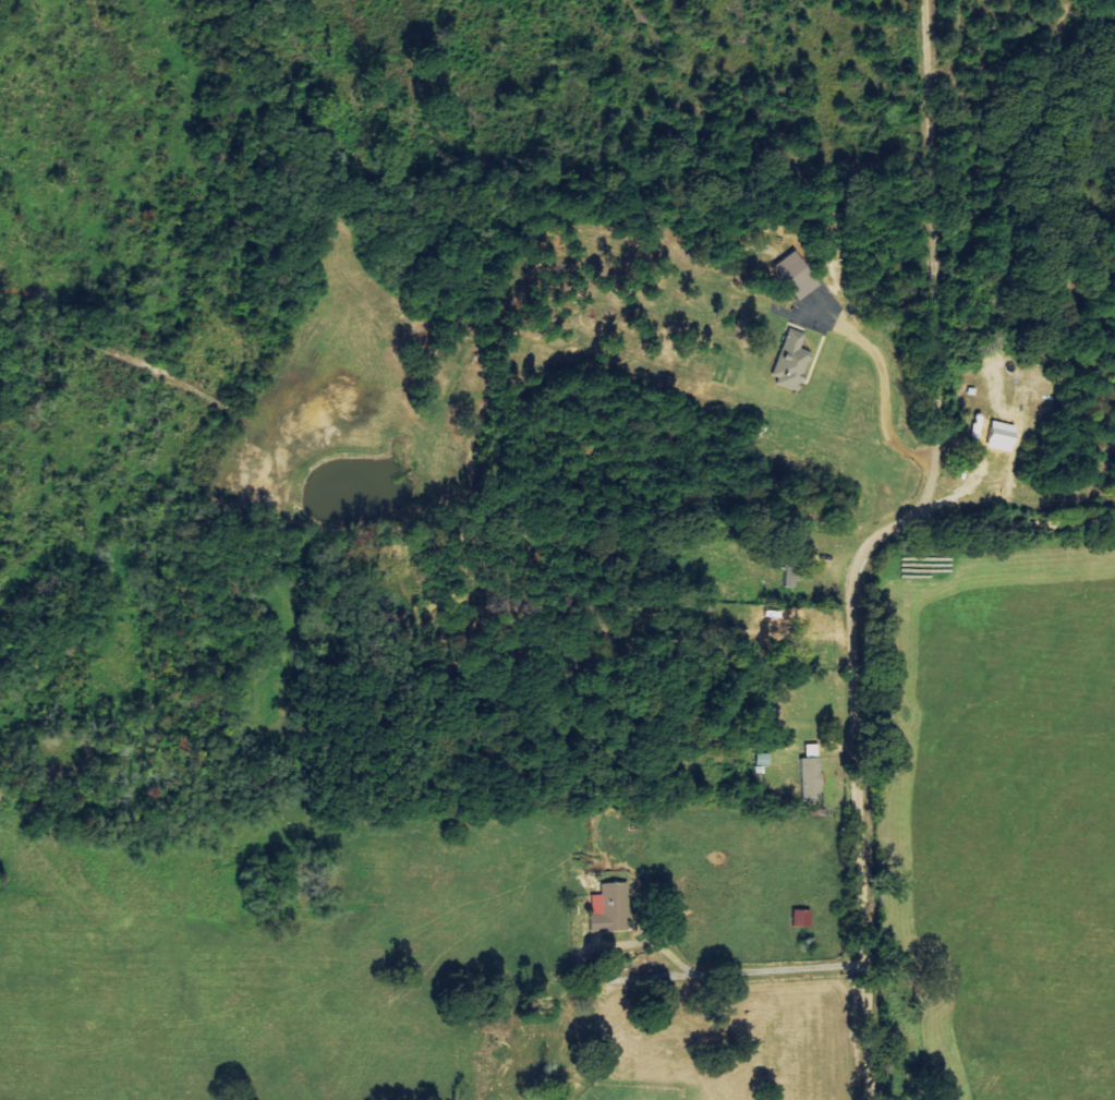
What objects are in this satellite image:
road: (936, 263)
building: (795, 277)
building: (789, 363)
road: (849, 693)
building: (810, 781)
building: (611, 907)
building: (800, 919)

